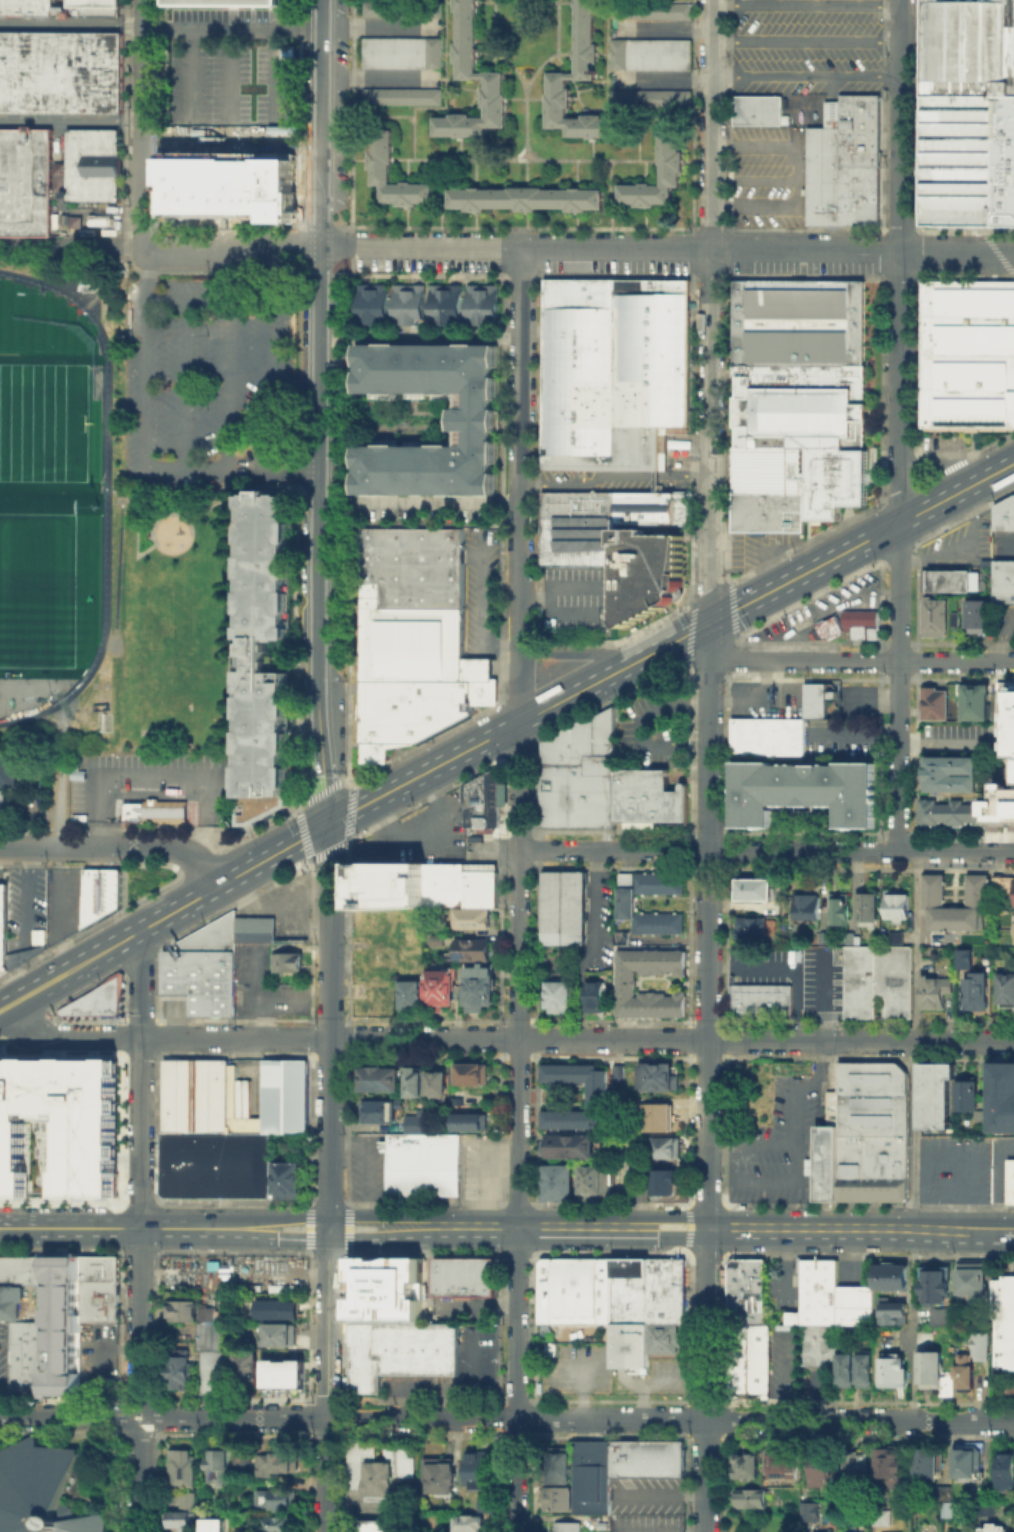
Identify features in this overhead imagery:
building: (231, 2)
road: (807, 6)
building: (61, 8)
building: (401, 8)
building: (649, 10)
road: (72, 20)
road: (233, 31)
building: (465, 35)
building: (584, 35)
road: (807, 42)
parking lot: (807, 47)
road: (555, 51)
building: (401, 52)
building: (649, 53)
building: (61, 70)
road: (807, 76)
parking lot: (231, 78)
road: (231, 78)
building: (400, 95)
building: (649, 97)
building: (967, 112)
building: (760, 113)
road: (401, 115)
road: (71, 118)
road: (703, 121)
road: (322, 122)
road: (143, 126)
road: (230, 126)
road: (637, 126)
building: (380, 155)
building: (669, 156)
road: (520, 157)
road: (610, 158)
building: (92, 164)
building: (847, 169)
building: (234, 180)
building: (26, 181)
building: (524, 198)
building: (101, 228)
building: (113, 229)
road: (901, 232)
road: (71, 244)
road: (668, 246)
road: (234, 252)
building: (377, 307)
building: (411, 308)
building: (447, 308)
building: (483, 309)
road: (710, 311)
road: (421, 338)
road: (223, 346)
road: (103, 351)
building: (967, 352)
road: (142, 358)
building: (614, 377)
park: (45, 383)
parking lot: (210, 384)
building: (794, 400)
park: (36, 422)
park: (43, 422)
building: (479, 426)
road: (944, 465)
road: (226, 469)
road: (612, 471)
road: (1000, 471)
road: (1000, 479)
road: (520, 484)
road: (121, 491)
track: (105, 502)
road: (419, 502)
building: (1004, 513)
road: (318, 534)
park: (100, 535)
road: (153, 535)
parking lot: (968, 544)
building: (622, 547)
road: (847, 550)
building: (950, 581)
building: (1003, 582)
road: (552, 583)
park: (36, 589)
parking lot: (481, 590)
parking lot: (579, 601)
traffic signals: (736, 610)
parking lot: (824, 610)
road: (477, 613)
road: (560, 615)
building: (974, 617)
building: (935, 620)
building: (957, 621)
building: (857, 623)
parking lot: (1003, 625)
road: (101, 634)
traffic signals: (685, 636)
road: (998, 636)
building: (418, 639)
road: (573, 652)
building: (263, 658)
road: (899, 658)
road: (861, 661)
parking lot: (765, 698)
building: (814, 699)
building: (973, 702)
building: (932, 703)
building: (1009, 714)
road: (518, 723)
parking lot: (654, 729)
building: (765, 735)
parking lot: (953, 737)
parking lot: (839, 741)
building: (8, 770)
road: (61, 773)
building: (950, 773)
road: (153, 778)
building: (606, 785)
parking lot: (155, 786)
building: (801, 789)
building: (484, 796)
building: (2, 805)
building: (1001, 808)
building: (948, 810)
building: (160, 814)
traffic signals: (327, 825)
parking lot: (424, 829)
road: (421, 831)
road: (117, 848)
road: (744, 850)
building: (392, 879)
building: (450, 880)
building: (484, 884)
road: (217, 887)
building: (935, 887)
building: (755, 890)
building: (100, 893)
parking lot: (64, 903)
road: (56, 905)
building: (628, 905)
building: (898, 906)
parking lot: (25, 907)
building: (809, 908)
building: (564, 910)
building: (841, 910)
building: (868, 910)
parking lot: (289, 911)
building: (3, 915)
building: (472, 915)
road: (709, 927)
building: (753, 930)
building: (257, 933)
building: (1013, 941)
building: (475, 946)
building: (965, 960)
building: (289, 965)
road: (52, 967)
road: (788, 967)
building: (206, 971)
parking lot: (795, 972)
road: (519, 976)
building: (879, 980)
building: (482, 984)
building: (442, 985)
road: (56, 987)
building: (627, 987)
parking lot: (268, 988)
building: (933, 990)
building: (411, 992)
building: (1007, 992)
building: (979, 993)
building: (561, 996)
building: (597, 997)
road: (819, 997)
building: (95, 999)
building: (762, 1003)
road: (330, 1026)
road: (167, 1037)
road: (672, 1039)
road: (915, 1042)
building: (469, 1074)
building: (657, 1076)
road: (140, 1079)
building: (378, 1079)
building: (412, 1082)
building: (435, 1084)
park: (757, 1090)
building: (933, 1092)
building: (283, 1093)
parking lot: (243, 1094)
building: (591, 1094)
building: (964, 1094)
building: (190, 1095)
building: (1002, 1096)
building: (459, 1103)
building: (377, 1111)
building: (658, 1116)
building: (466, 1122)
building: (411, 1123)
building: (57, 1126)
building: (865, 1134)
parking lot: (785, 1139)
building: (568, 1147)
building: (665, 1147)
road: (722, 1152)
building: (630, 1162)
building: (421, 1164)
building: (213, 1165)
parking lot: (365, 1166)
parking lot: (477, 1167)
parking lot: (1001, 1167)
road: (366, 1168)
parking lot: (954, 1170)
road: (483, 1174)
road: (796, 1175)
building: (284, 1179)
building: (1010, 1179)
building: (556, 1181)
building: (592, 1182)
building: (663, 1183)
road: (1001, 1186)
road: (70, 1227)
road: (234, 1228)
road: (518, 1229)
road: (855, 1231)
road: (1009, 1231)
building: (21, 1268)
building: (890, 1275)
building: (467, 1277)
building: (934, 1282)
building: (974, 1282)
building: (188, 1288)
building: (99, 1289)
building: (750, 1291)
building: (616, 1301)
building: (9, 1302)
building: (278, 1308)
building: (827, 1308)
building: (180, 1309)
building: (892, 1310)
building: (941, 1315)
road: (139, 1322)
road: (328, 1322)
building: (1005, 1323)
road: (913, 1325)
building: (63, 1330)
building: (278, 1333)
building: (668, 1340)
building: (980, 1344)
building: (400, 1350)
building: (25, 1356)
building: (212, 1356)
building: (750, 1359)
building: (244, 1365)
building: (845, 1366)
building: (863, 1366)
building: (929, 1367)
building: (181, 1369)
building: (963, 1369)
building: (893, 1370)
building: (283, 1374)
road: (518, 1380)
road: (706, 1380)
road: (578, 1385)
road: (69, 1416)
road: (233, 1417)
road: (670, 1419)
building: (646, 1457)
building: (967, 1460)
building: (780, 1462)
building: (887, 1462)
building: (926, 1462)
building: (241, 1463)
building: (277, 1464)
building: (745, 1464)
building: (856, 1464)
building: (216, 1465)
building: (381, 1465)
building: (180, 1466)
building: (558, 1466)
building: (820, 1467)
building: (1003, 1471)
building: (481, 1473)
road: (138, 1474)
road: (328, 1474)
building: (591, 1475)
building: (441, 1477)
building: (39, 1490)
building: (943, 1494)
building: (557, 1496)
building: (750, 1497)
building: (186, 1498)
building: (273, 1498)
building: (488, 1506)
building: (947, 1508)
building: (809, 1512)
building: (882, 1517)
building: (175, 1519)
building: (278, 1523)
building: (211, 1524)
building: (472, 1526)
building: (565, 1526)
building: (376, 1527)
building: (993, 1528)
building: (242, 1531)
building: (852, 1531)

